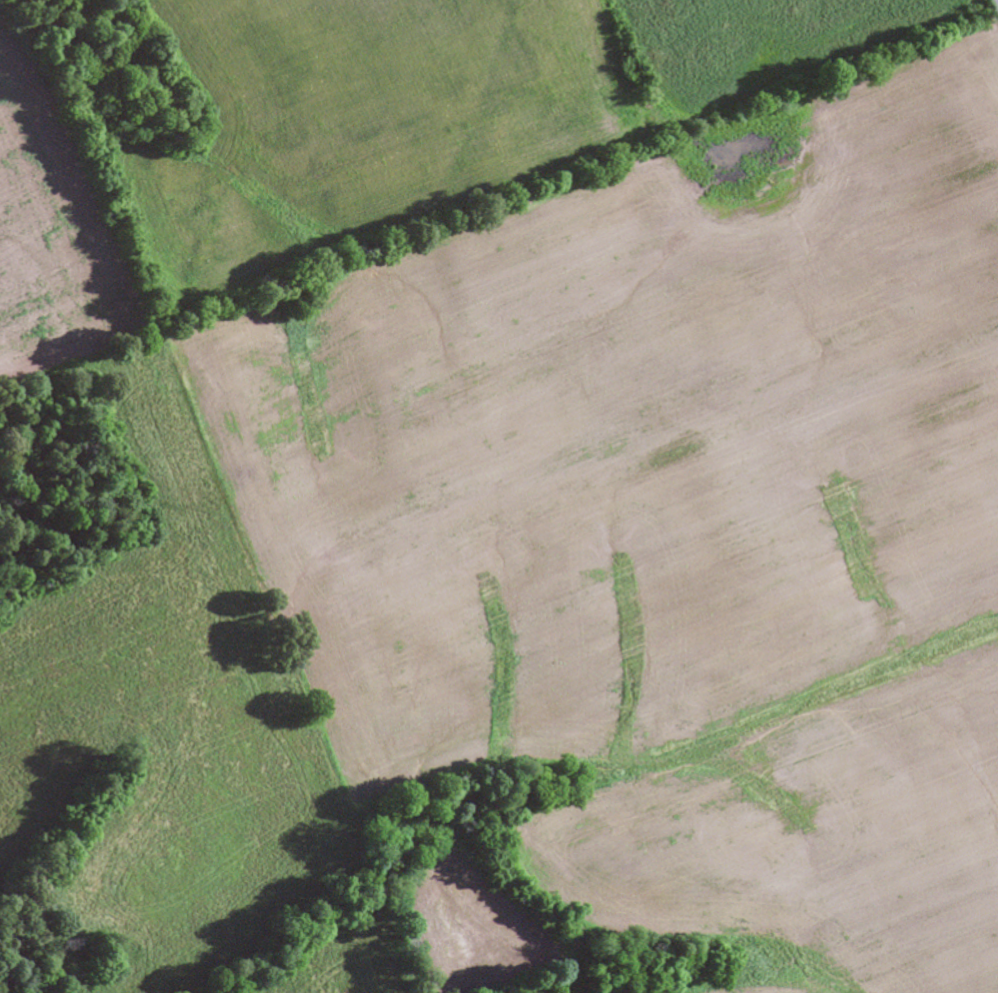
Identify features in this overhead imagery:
road: (997, 0)

